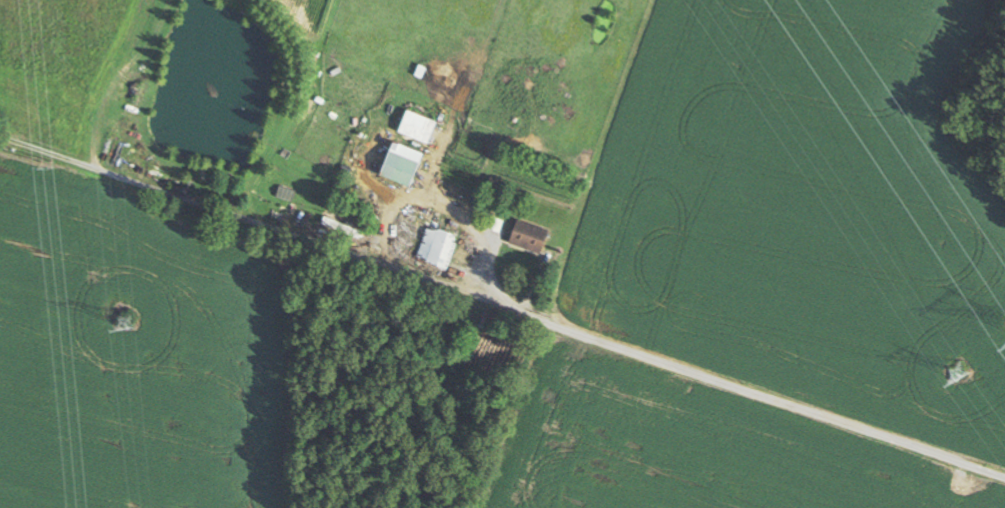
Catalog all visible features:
building: (417, 126)
power tower: (48, 163)
building: (400, 167)
building: (269, 199)
building: (339, 226)
building: (529, 235)
building: (437, 246)
road: (502, 304)
power tower: (959, 374)

